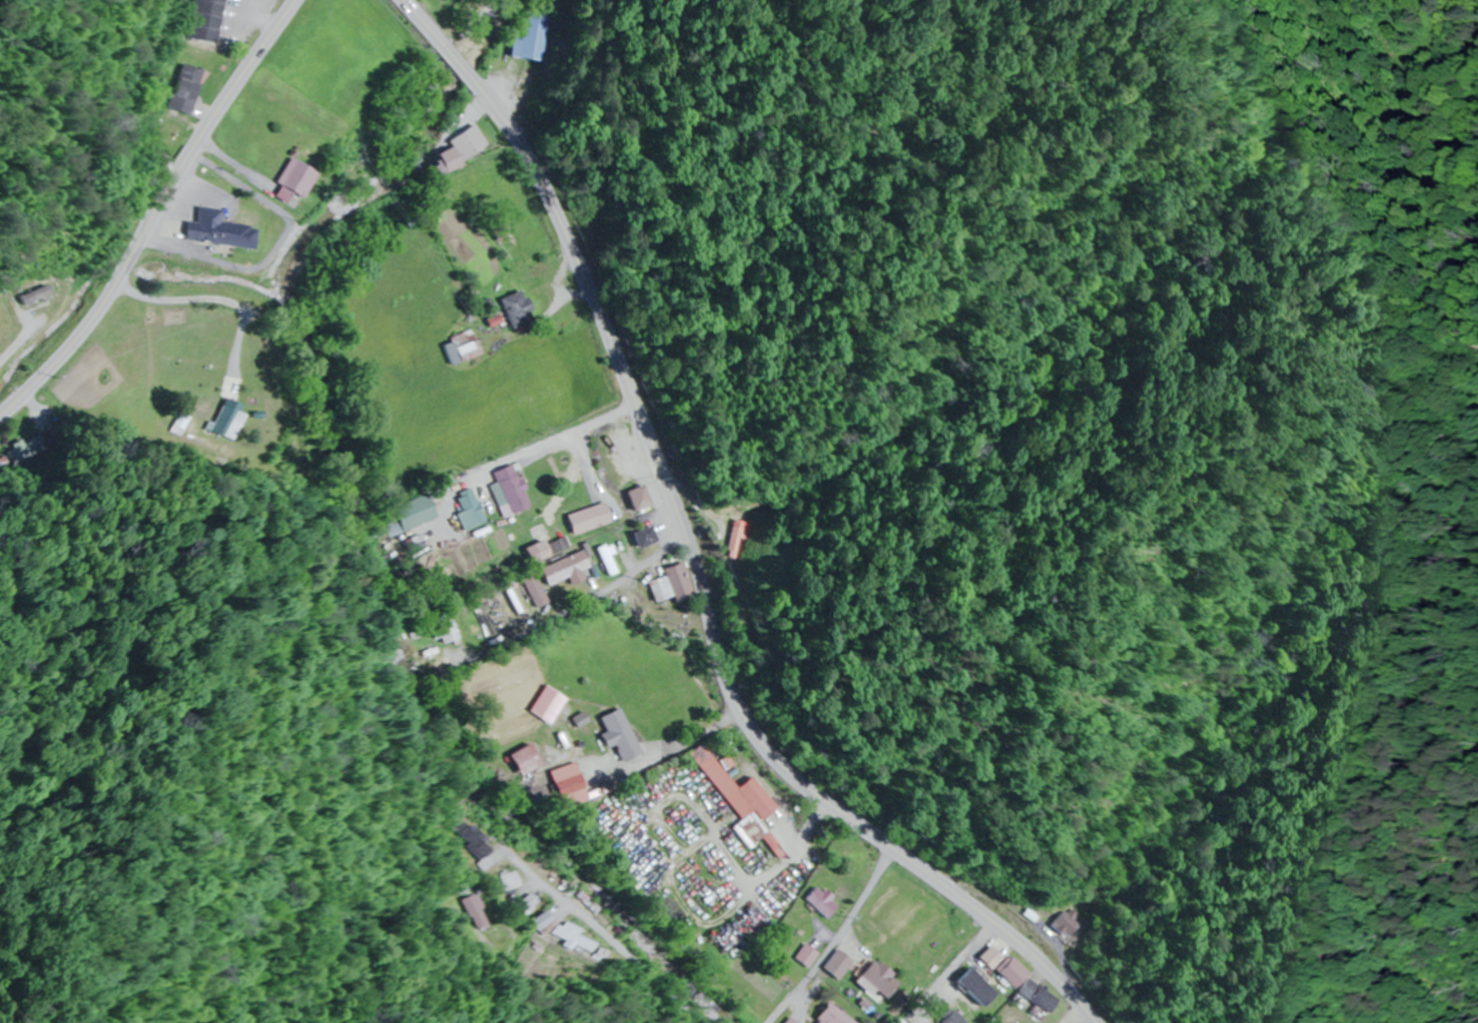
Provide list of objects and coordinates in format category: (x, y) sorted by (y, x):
building: (218, 19)
building: (529, 37)
building: (198, 88)
building: (463, 142)
building: (436, 162)
building: (300, 181)
road: (158, 215)
building: (225, 230)
building: (499, 230)
building: (515, 308)
building: (462, 351)
building: (186, 423)
building: (232, 423)
road: (568, 431)
building: (509, 491)
building: (639, 498)
building: (470, 511)
building: (419, 512)
building: (590, 519)
building: (737, 536)
building: (643, 537)
building: (560, 545)
building: (535, 552)
road: (698, 557)
building: (609, 562)
building: (566, 570)
building: (673, 584)
building: (534, 590)
building: (450, 632)
building: (541, 702)
building: (616, 735)
building: (519, 760)
road: (433, 783)
building: (564, 786)
building: (740, 801)
building: (477, 840)
road: (538, 876)
building: (516, 880)
building: (821, 900)
building: (474, 903)
building: (1066, 921)
building: (572, 933)
road: (833, 936)
building: (803, 955)
building: (835, 964)
building: (1002, 966)
building: (876, 977)
building: (971, 985)
building: (1035, 994)
building: (830, 1015)
building: (954, 1017)
building: (789, 1021)
building: (1011, 1022)

